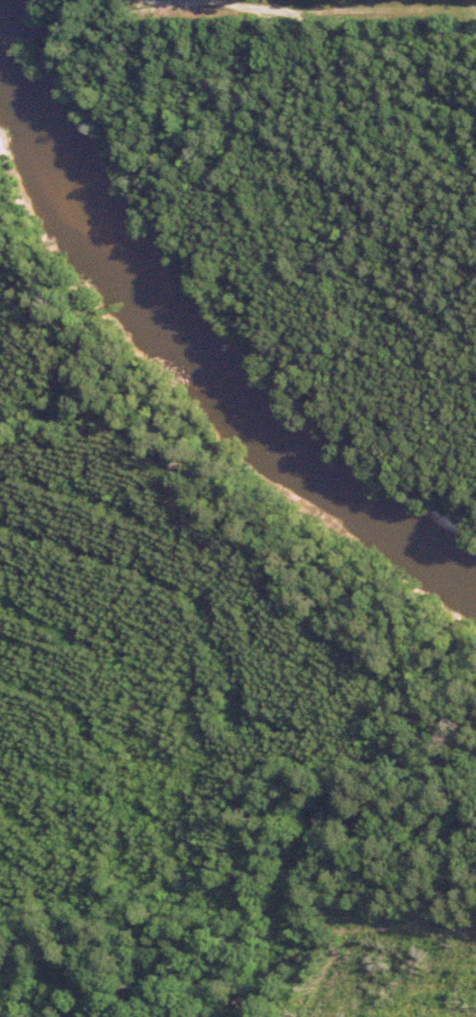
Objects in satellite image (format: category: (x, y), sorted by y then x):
river: (194, 358)

